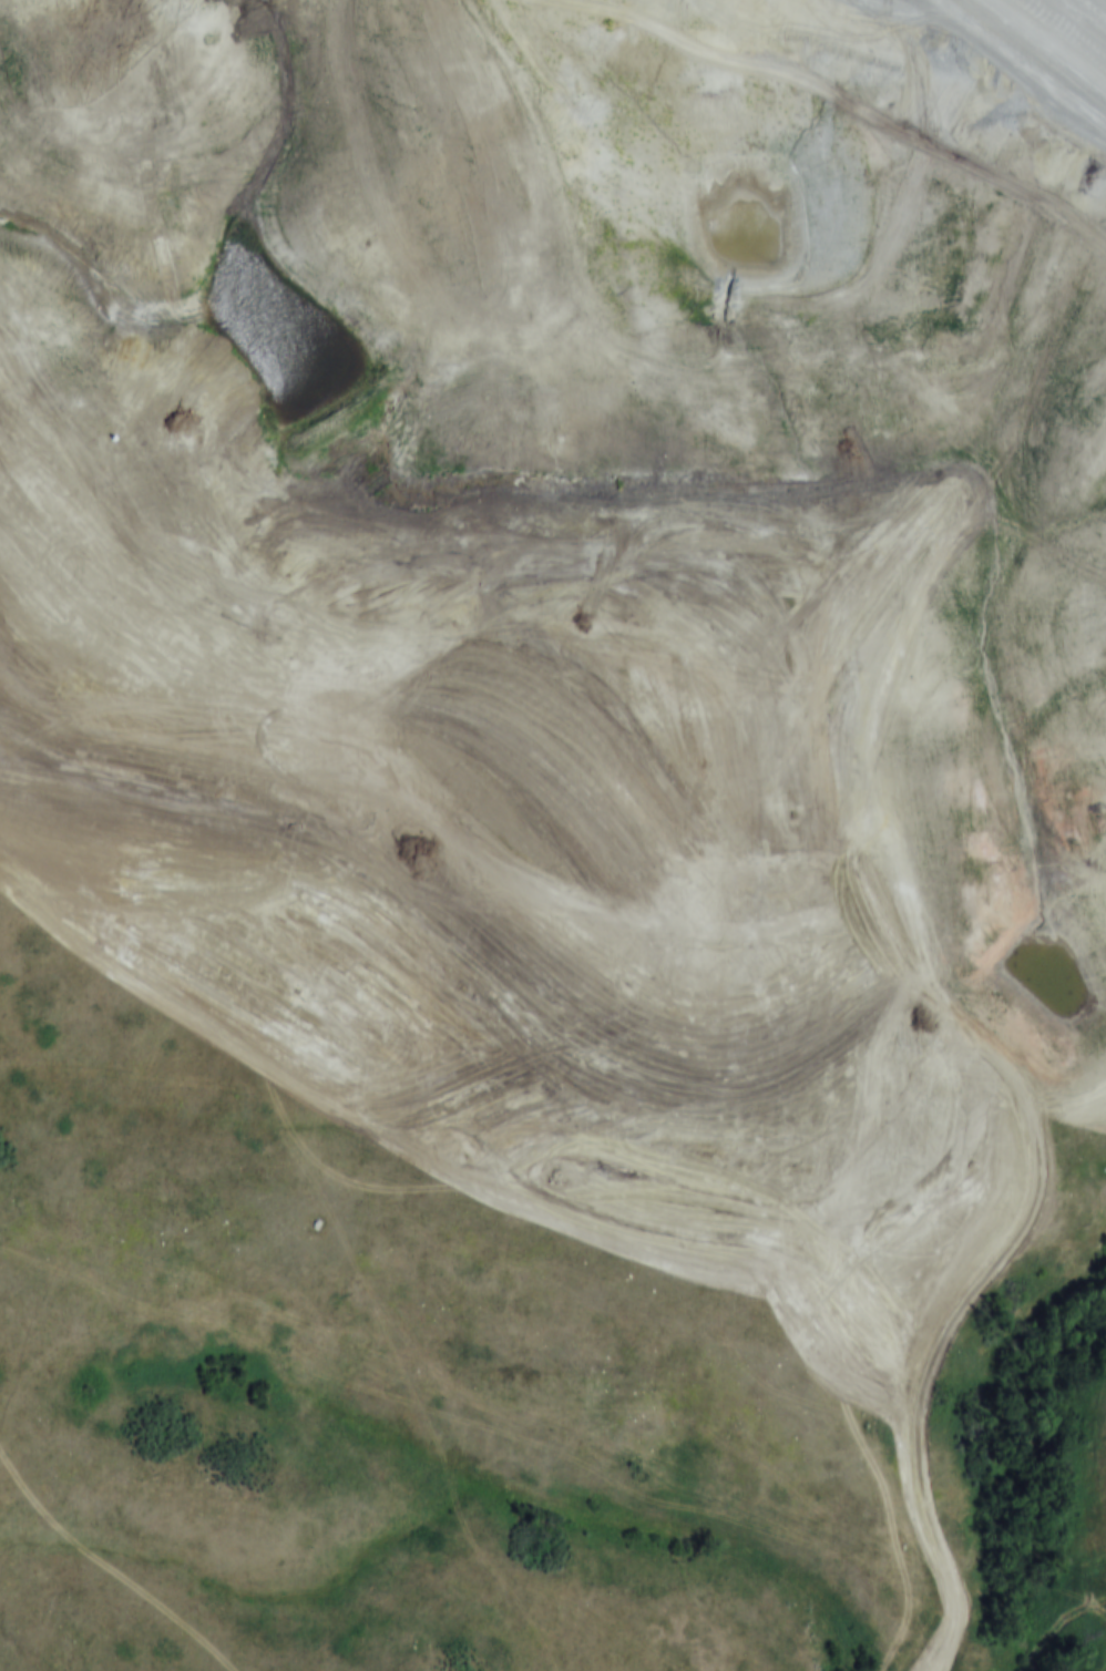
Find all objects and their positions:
road: (1085, 14)

